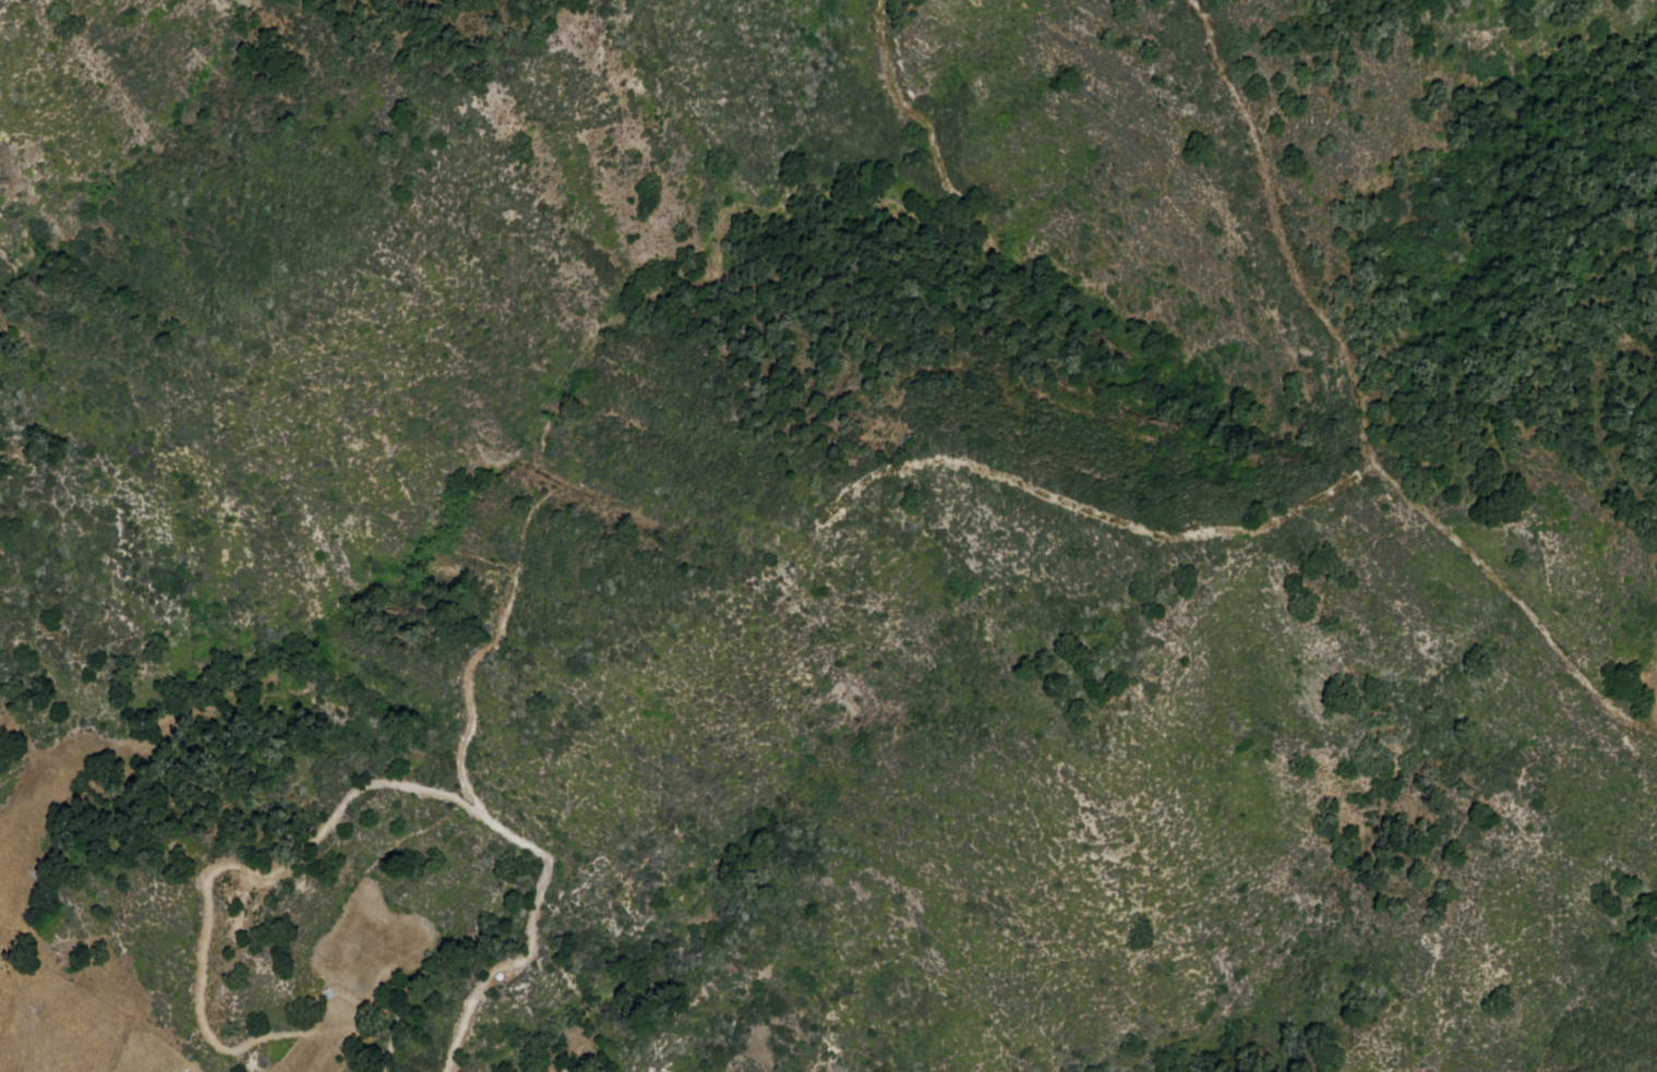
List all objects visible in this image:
road: (1344, 419)

